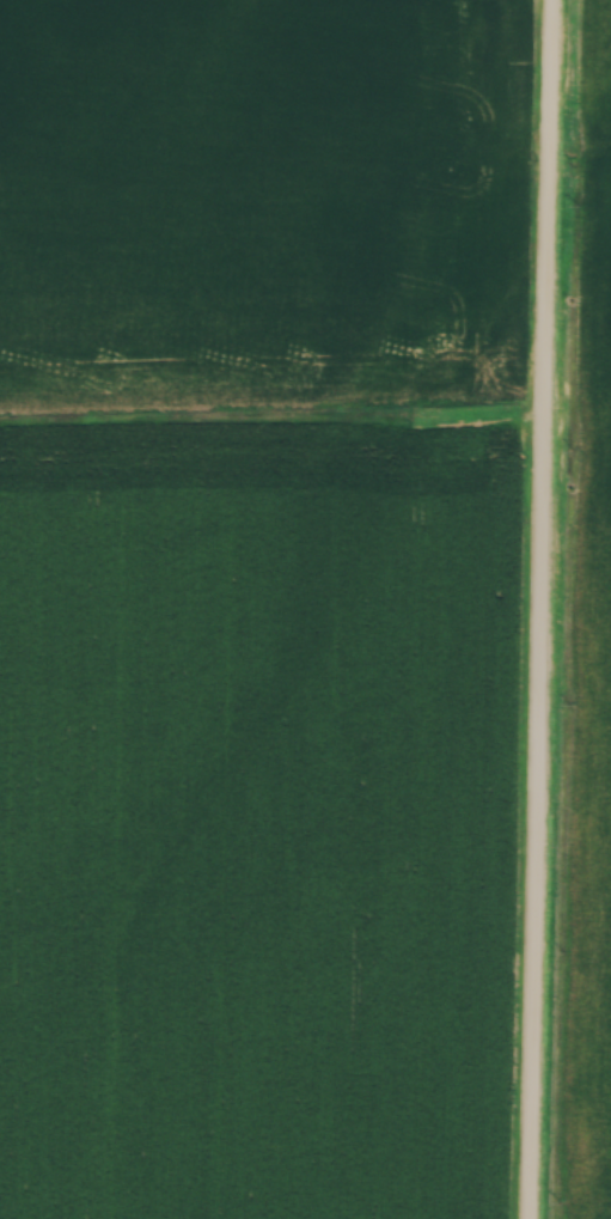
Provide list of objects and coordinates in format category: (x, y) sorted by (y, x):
road: (530, 609)

